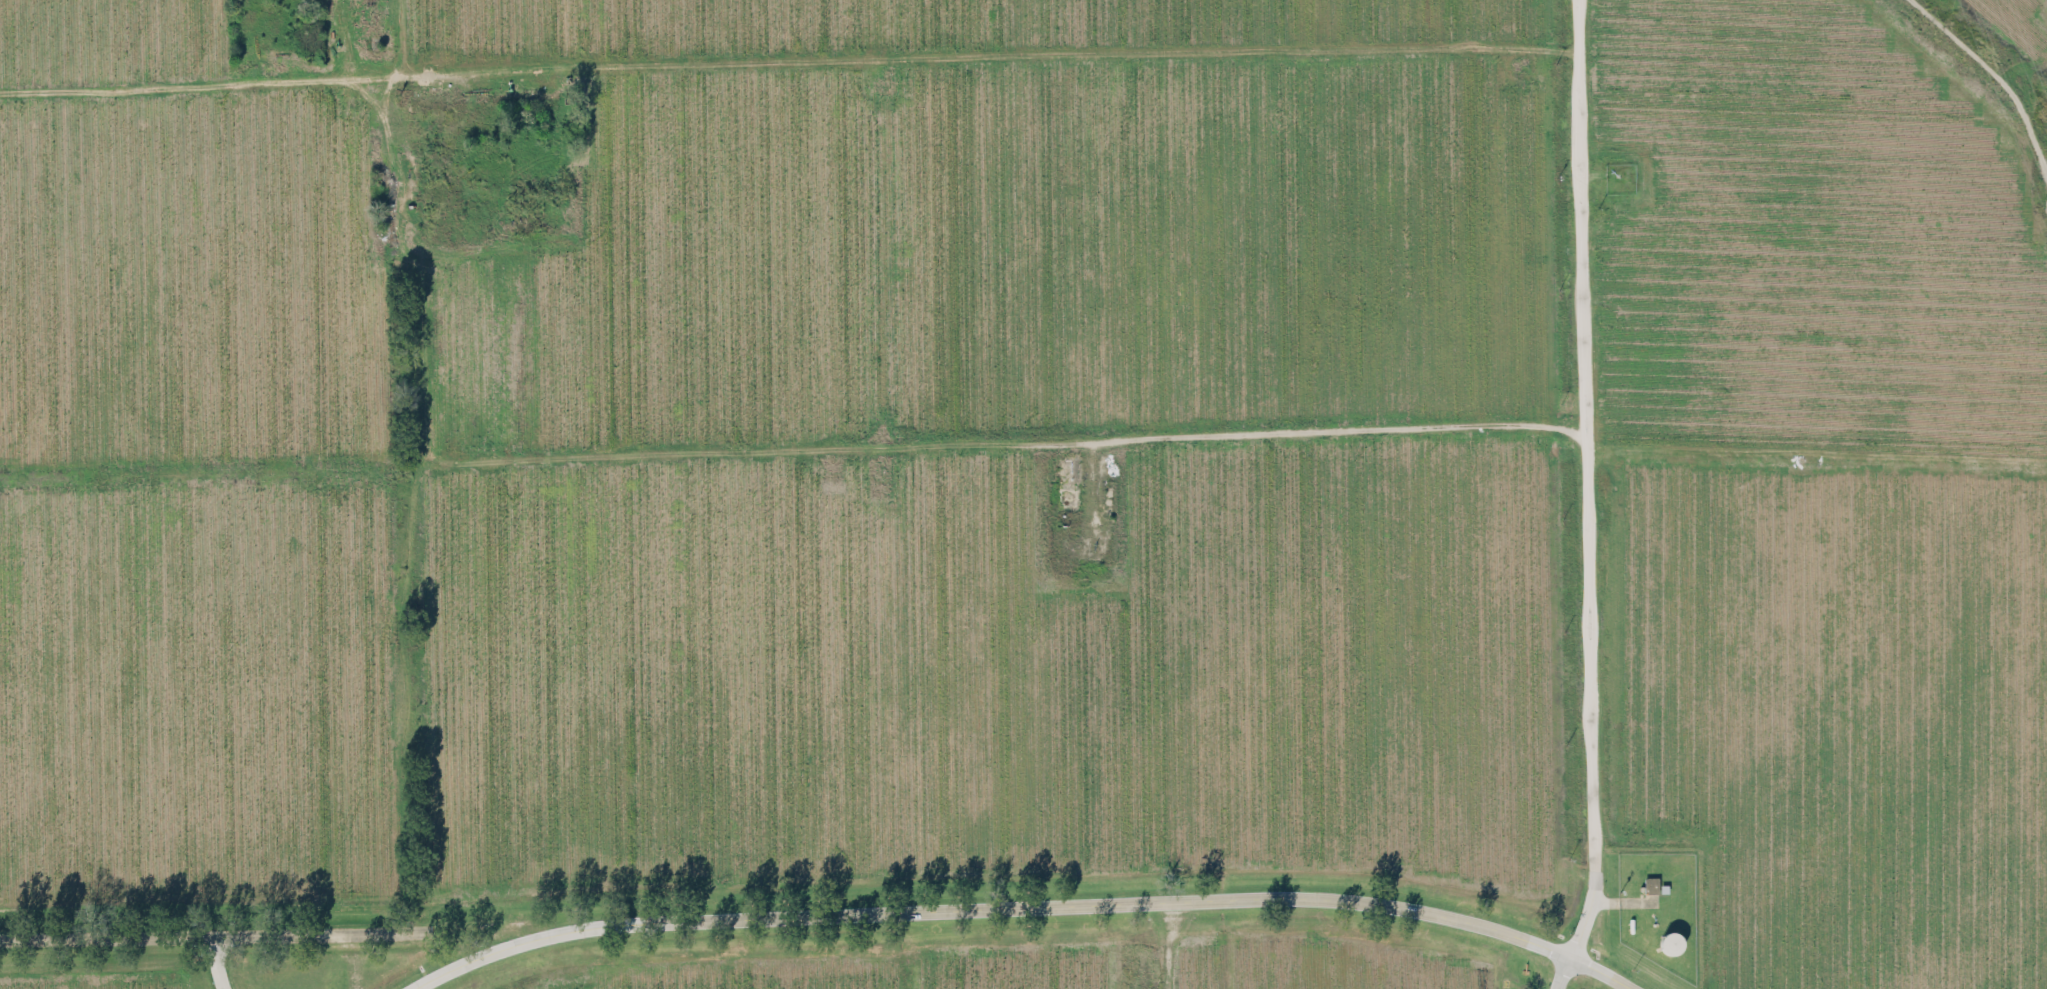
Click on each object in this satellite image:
crop: (2017, 25)
road: (392, 40)
road: (1967, 45)
road: (789, 73)
road: (1585, 482)
crop: (1821, 490)
crop: (773, 493)
road: (412, 701)
building: (1651, 884)
building: (1663, 888)
road: (1623, 900)
road: (1019, 907)
road: (207, 936)
building: (1671, 942)
road: (216, 962)
road: (1563, 974)

